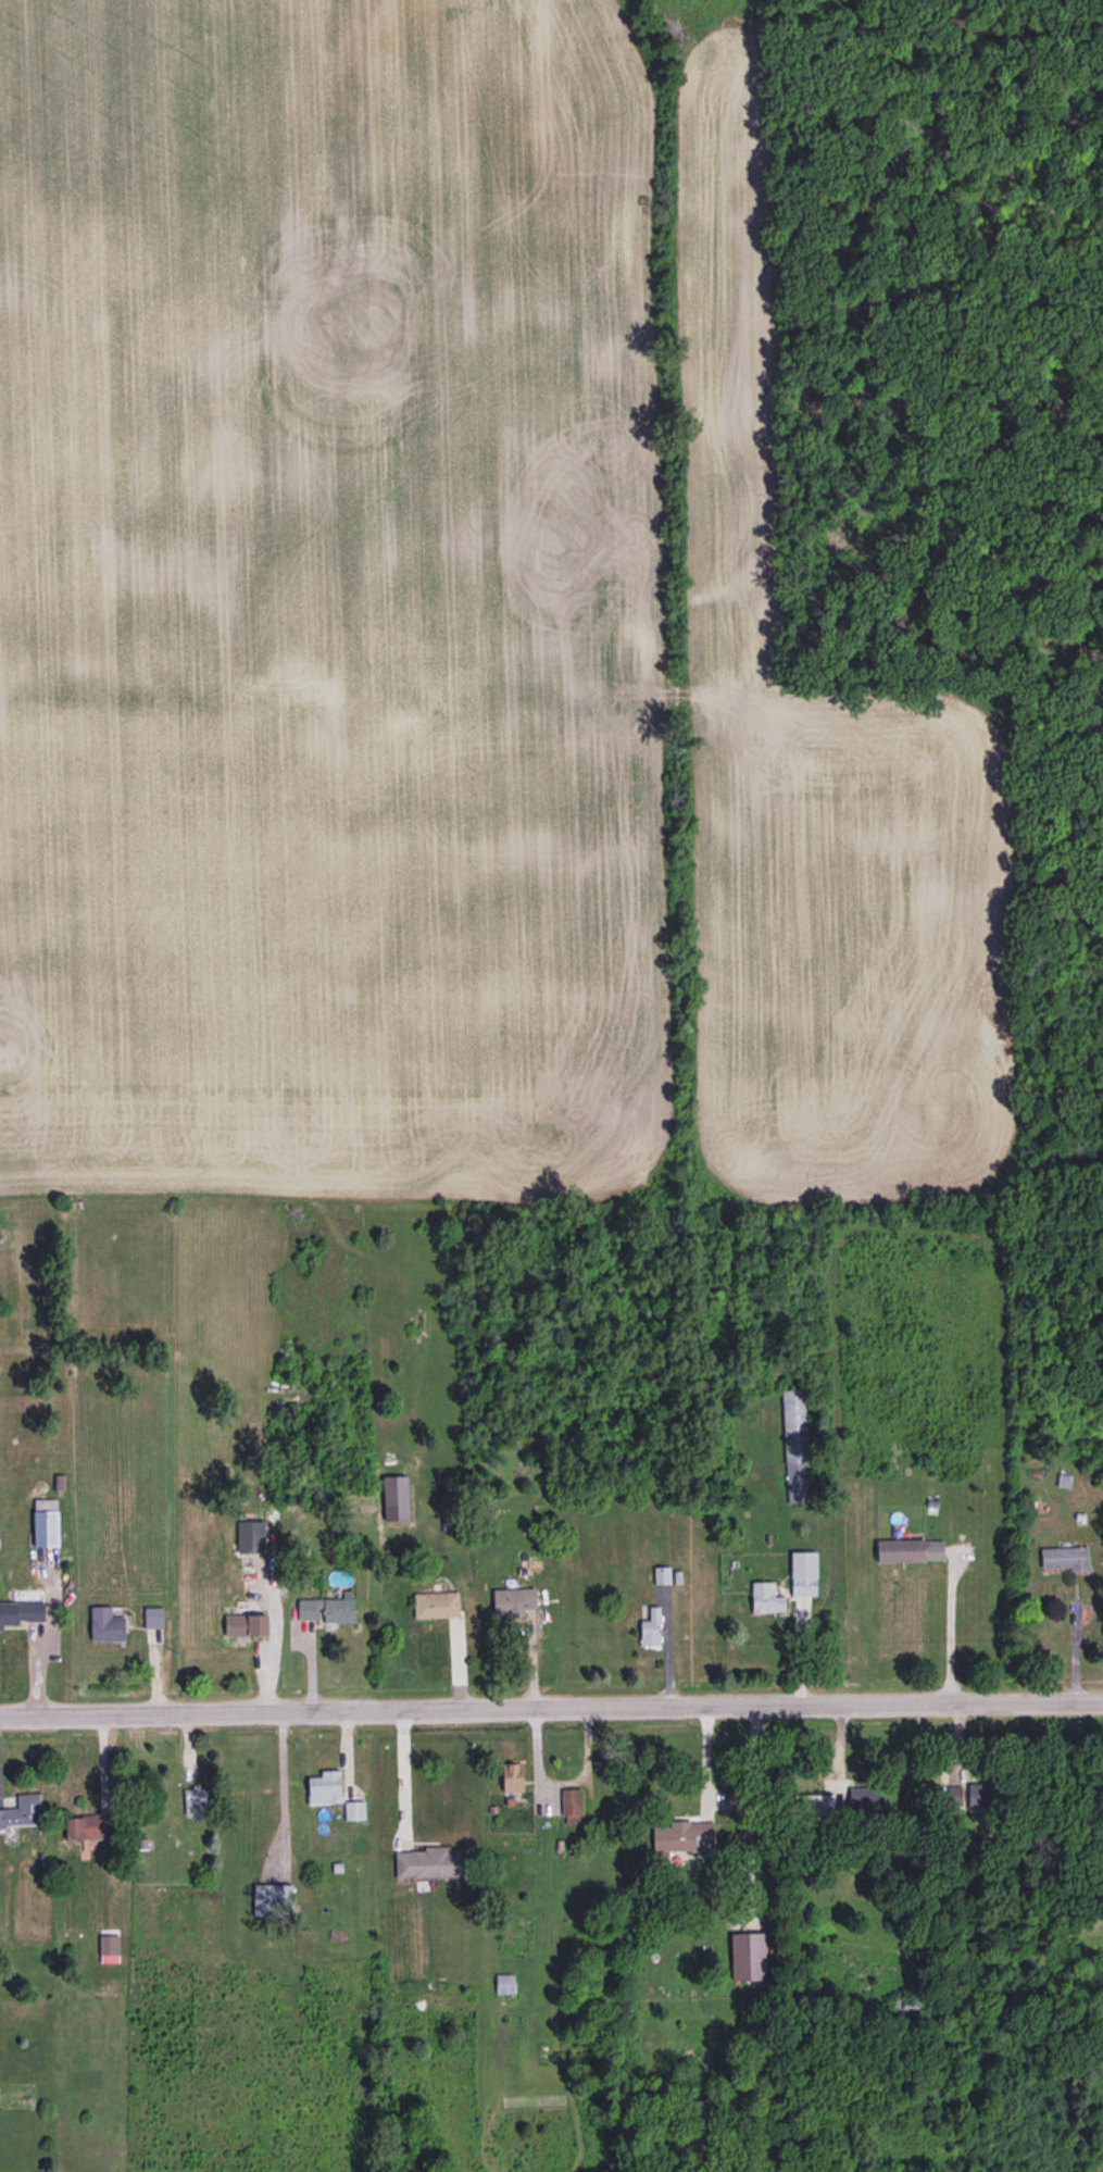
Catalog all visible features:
building: (795, 1444)
building: (396, 1497)
building: (46, 1526)
building: (251, 1536)
building: (911, 1549)
building: (1065, 1557)
building: (804, 1572)
building: (766, 1597)
building: (515, 1601)
building: (437, 1603)
building: (328, 1608)
building: (22, 1611)
building: (153, 1616)
building: (106, 1624)
building: (247, 1624)
building: (651, 1626)
road: (952, 1627)
road: (39, 1658)
road: (551, 1711)
road: (705, 1759)
road: (403, 1775)
building: (513, 1775)
building: (325, 1787)
building: (980, 1795)
building: (865, 1799)
building: (196, 1801)
building: (572, 1801)
building: (820, 1808)
building: (354, 1809)
building: (23, 1811)
building: (91, 1827)
building: (682, 1835)
building: (431, 1862)
building: (272, 1899)
building: (110, 1947)
building: (749, 1956)
building: (505, 1983)

